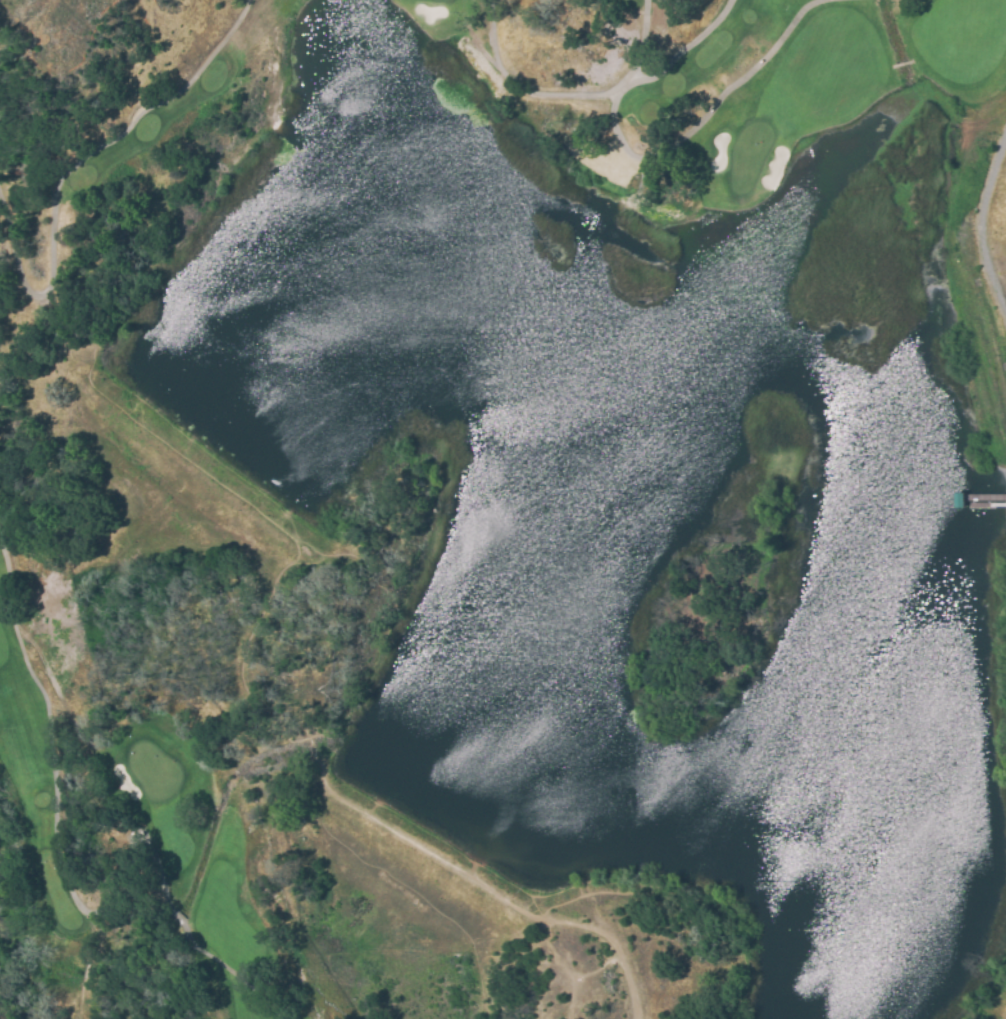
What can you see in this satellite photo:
road: (660, 27)
park: (95, 91)
park: (794, 131)
road: (647, 158)
road: (981, 224)
building: (959, 499)
road: (258, 510)
park: (326, 693)
road: (216, 809)
park: (114, 865)
road: (450, 865)
road: (424, 906)
road: (545, 912)
road: (575, 917)
road: (555, 956)
road: (587, 977)
road: (484, 1008)

